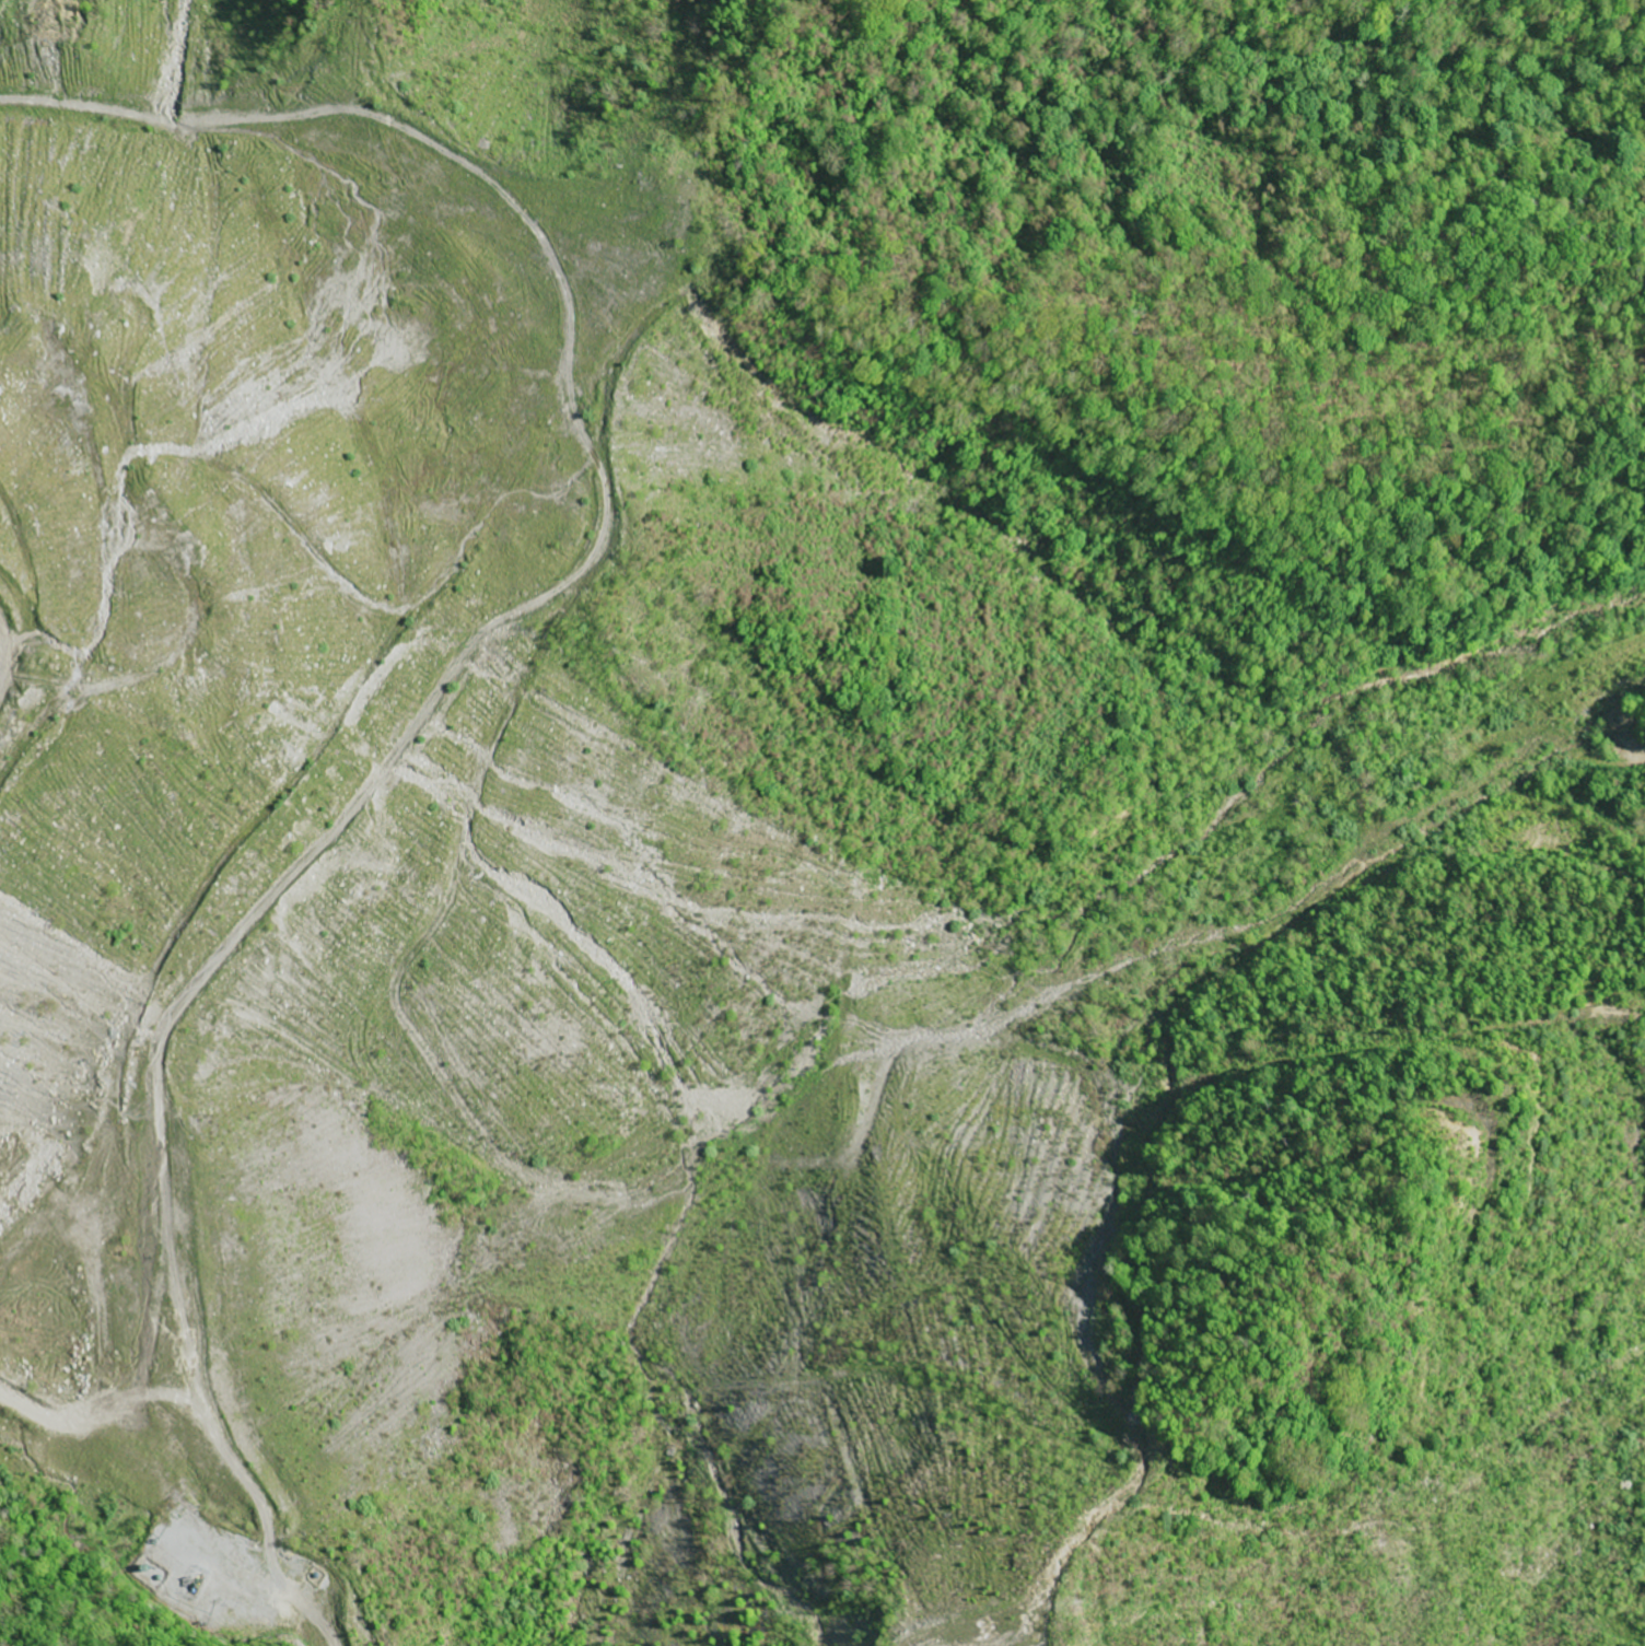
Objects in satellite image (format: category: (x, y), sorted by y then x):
road: (450, 626)

